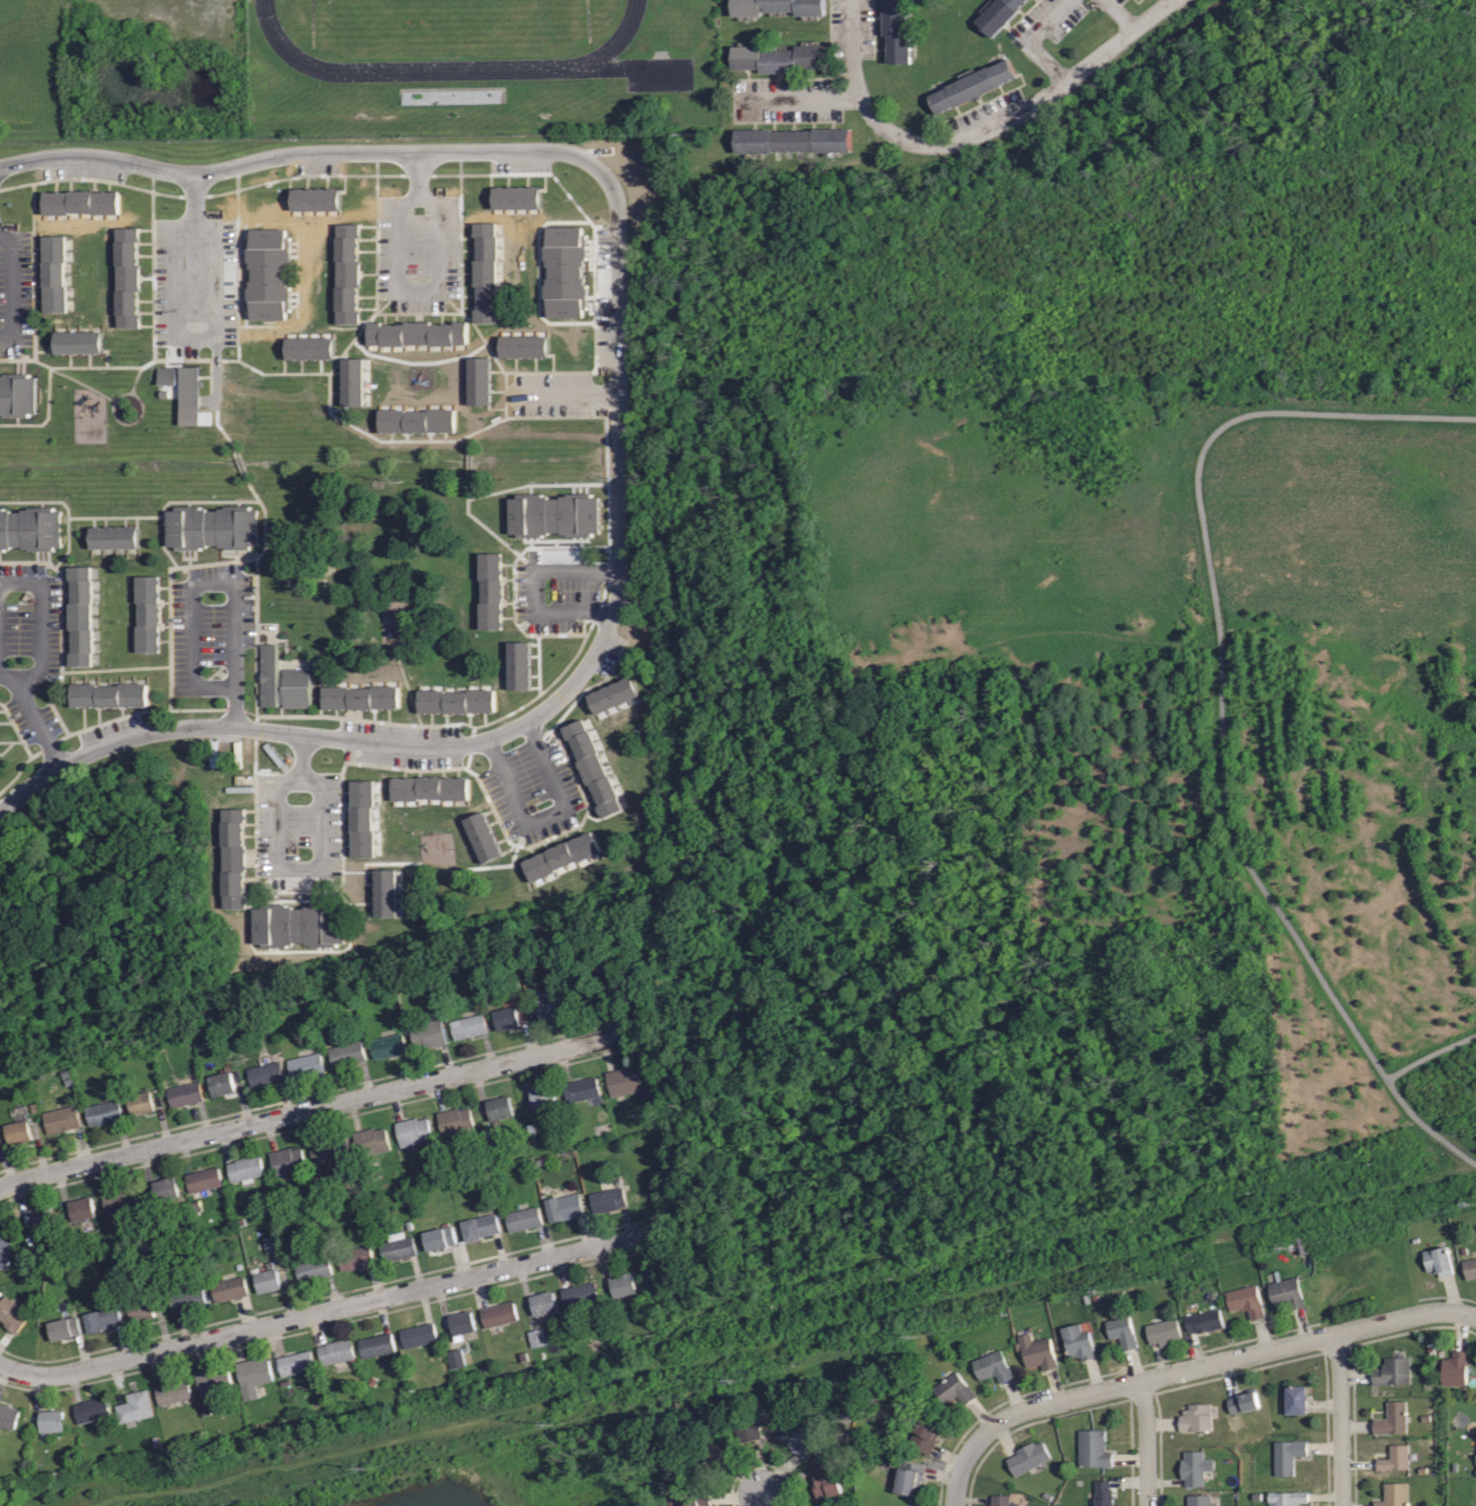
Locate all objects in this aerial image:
building: (777, 7)
road: (1121, 14)
building: (999, 15)
park: (449, 22)
building: (896, 31)
road: (1034, 40)
track: (617, 42)
building: (778, 58)
road: (853, 67)
building: (972, 85)
road: (797, 99)
road: (1037, 102)
building: (792, 140)
road: (415, 152)
road: (417, 174)
road: (196, 197)
building: (517, 198)
building: (316, 199)
building: (82, 202)
building: (566, 272)
building: (55, 273)
building: (269, 273)
building: (350, 273)
building: (489, 273)
building: (131, 276)
road: (12, 289)
road: (417, 291)
building: (421, 332)
road: (193, 339)
building: (78, 342)
building: (525, 346)
building: (311, 348)
building: (480, 381)
building: (183, 382)
building: (354, 382)
building: (17, 394)
road: (565, 394)
building: (417, 420)
building: (556, 515)
building: (215, 527)
building: (31, 529)
building: (113, 537)
road: (193, 584)
road: (534, 586)
building: (492, 590)
building: (152, 611)
building: (85, 615)
road: (40, 627)
building: (520, 665)
road: (26, 681)
building: (284, 681)
building: (110, 695)
building: (614, 695)
building: (361, 697)
building: (457, 701)
road: (1220, 702)
road: (235, 707)
road: (36, 720)
building: (223, 747)
road: (435, 748)
road: (300, 757)
building: (218, 764)
building: (594, 768)
building: (431, 788)
road: (545, 816)
building: (363, 818)
building: (483, 837)
building: (562, 856)
building: (238, 858)
road: (298, 869)
building: (386, 893)
building: (300, 925)
building: (590, 996)
building: (548, 1006)
building: (506, 1018)
building: (468, 1026)
building: (428, 1034)
building: (388, 1046)
building: (346, 1054)
road: (1432, 1060)
building: (305, 1063)
building: (264, 1074)
building: (623, 1081)
building: (221, 1084)
building: (581, 1089)
building: (183, 1094)
building: (543, 1097)
building: (139, 1103)
building: (499, 1107)
road: (314, 1109)
building: (102, 1113)
building: (61, 1119)
building: (455, 1121)
building: (413, 1130)
building: (17, 1131)
building: (371, 1142)
building: (0, 1146)
building: (328, 1152)
building: (287, 1161)
building: (245, 1169)
building: (203, 1179)
building: (166, 1188)
building: (607, 1199)
building: (123, 1201)
building: (564, 1207)
building: (82, 1209)
building: (41, 1218)
building: (523, 1219)
building: (479, 1227)
building: (438, 1238)
building: (273, 1245)
building: (397, 1247)
building: (4, 1252)
building: (354, 1258)
building: (1441, 1260)
building: (1471, 1267)
building: (312, 1269)
building: (267, 1281)
building: (623, 1284)
building: (229, 1289)
building: (1293, 1289)
building: (579, 1295)
building: (187, 1300)
building: (1250, 1300)
building: (543, 1302)
road: (338, 1308)
building: (141, 1310)
building: (12, 1314)
building: (498, 1314)
road: (1468, 1314)
building: (103, 1319)
building: (1205, 1320)
building: (461, 1322)
building: (64, 1328)
building: (1125, 1330)
building: (1163, 1332)
building: (418, 1336)
building: (540, 1338)
building: (1083, 1339)
building: (376, 1345)
building: (335, 1351)
building: (1038, 1351)
building: (459, 1360)
building: (295, 1363)
road: (1207, 1365)
building: (992, 1366)
building: (1453, 1369)
building: (1392, 1372)
building: (252, 1375)
building: (213, 1380)
building: (955, 1391)
building: (173, 1392)
building: (1299, 1398)
building: (1246, 1401)
building: (135, 1407)
building: (92, 1409)
building: (9, 1416)
building: (1197, 1417)
building: (1389, 1419)
road: (1339, 1420)
building: (51, 1421)
building: (747, 1429)
building: (923, 1435)
building: (796, 1437)
road: (1146, 1443)
building: (1094, 1448)
building: (1288, 1455)
building: (1393, 1458)
building: (705, 1459)
building: (1028, 1459)
building: (1195, 1469)
building: (909, 1477)
road: (957, 1477)
building: (826, 1481)
building: (1105, 1493)
building: (1392, 1494)
building: (1288, 1497)
building: (693, 1498)
road: (761, 1499)
building: (1004, 1500)
building: (1199, 1500)

